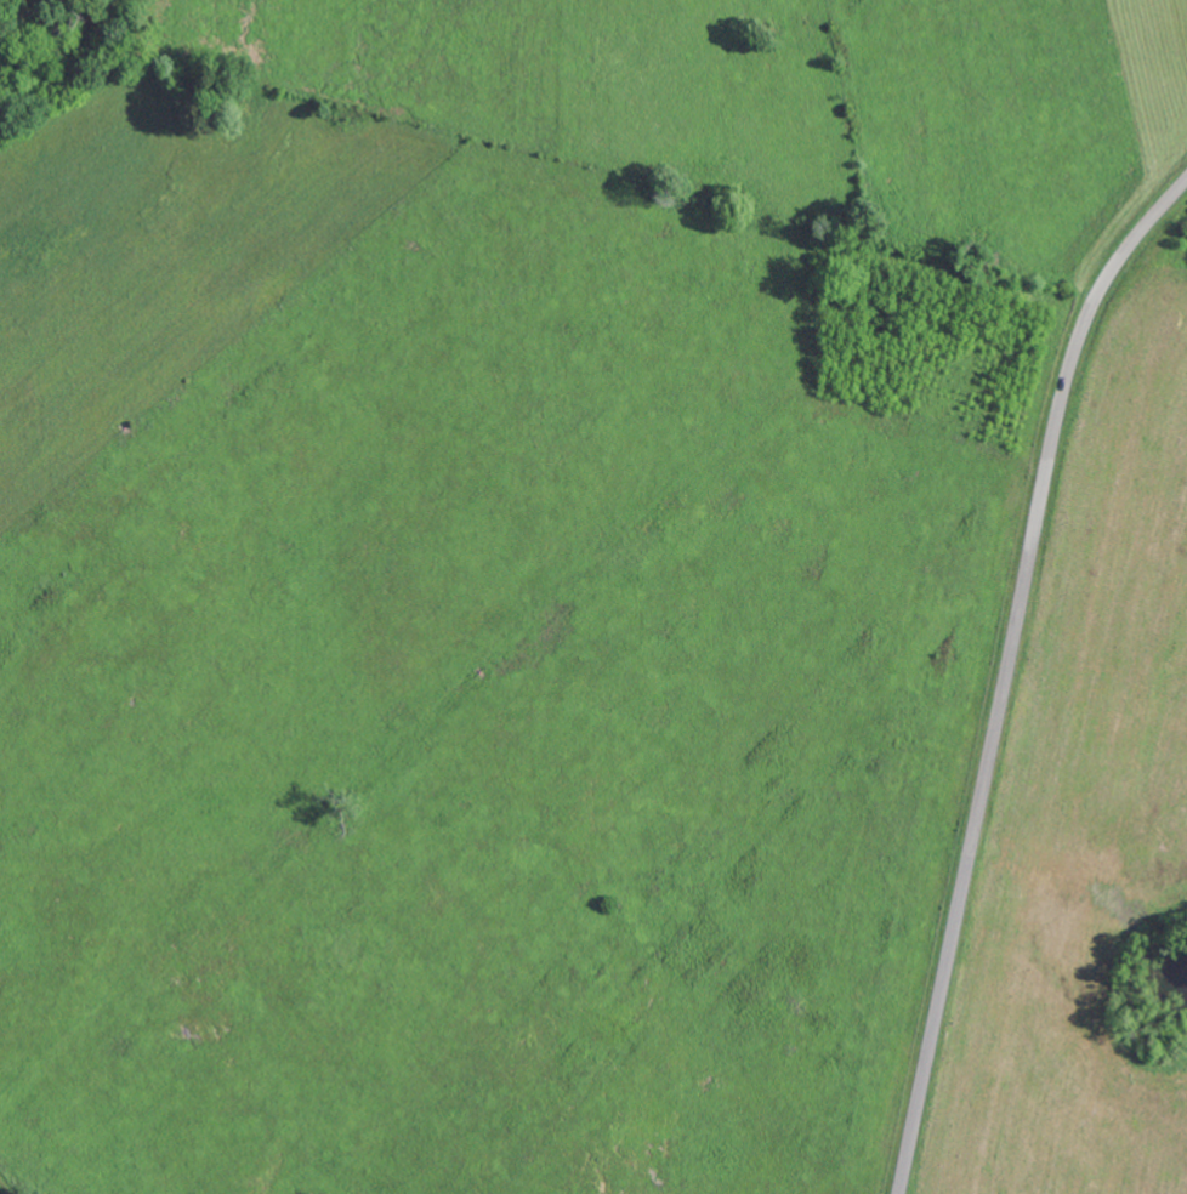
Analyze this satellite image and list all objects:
road: (1010, 672)

